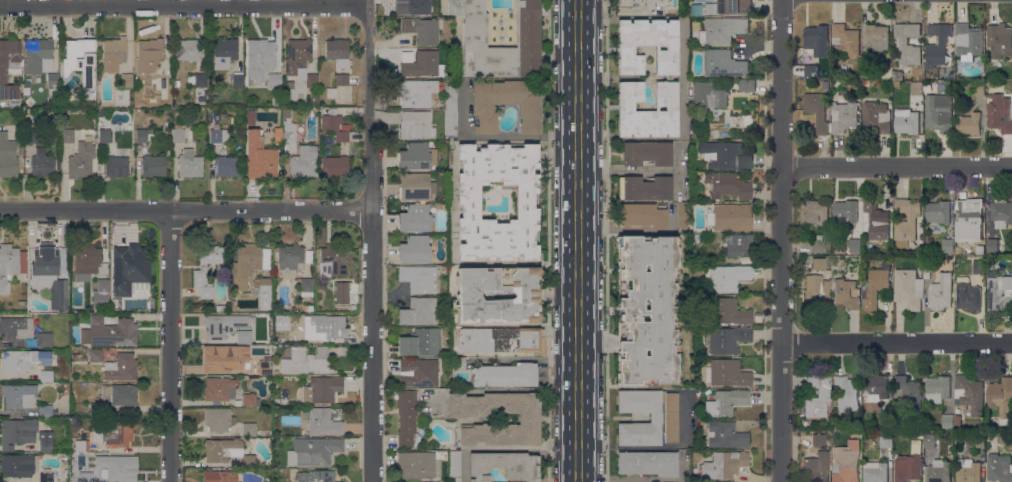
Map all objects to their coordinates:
building: (642, 3)
road: (180, 5)
building: (411, 6)
building: (728, 7)
building: (421, 29)
building: (527, 30)
building: (722, 30)
building: (817, 37)
building: (878, 37)
building: (846, 39)
building: (999, 40)
building: (968, 41)
building: (907, 43)
building: (939, 46)
building: (648, 47)
building: (115, 49)
building: (189, 49)
building: (262, 49)
building: (337, 51)
building: (224, 52)
building: (37, 54)
building: (149, 55)
building: (297, 55)
building: (724, 63)
building: (81, 64)
building: (422, 64)
building: (883, 68)
building: (868, 69)
building: (256, 70)
building: (814, 70)
building: (3, 75)
building: (898, 75)
building: (52, 79)
building: (341, 79)
building: (164, 80)
building: (200, 80)
building: (238, 80)
building: (274, 80)
building: (311, 80)
building: (126, 82)
building: (866, 83)
building: (743, 85)
building: (917, 88)
building: (979, 88)
building: (418, 92)
building: (331, 93)
building: (709, 95)
building: (314, 99)
building: (506, 103)
building: (451, 107)
building: (647, 107)
building: (818, 111)
building: (939, 112)
building: (286, 113)
building: (1000, 113)
building: (845, 116)
building: (250, 117)
building: (877, 117)
building: (697, 118)
building: (907, 121)
building: (969, 124)
building: (334, 125)
building: (416, 125)
building: (178, 134)
building: (219, 134)
building: (31, 135)
building: (141, 135)
building: (67, 136)
building: (104, 136)
road: (497, 136)
building: (286, 137)
building: (20, 150)
building: (647, 153)
building: (725, 155)
building: (7, 156)
building: (417, 156)
building: (259, 157)
building: (81, 159)
building: (303, 162)
building: (42, 163)
building: (190, 164)
building: (116, 166)
building: (153, 166)
building: (227, 166)
building: (335, 166)
road: (896, 166)
road: (623, 170)
building: (728, 185)
building: (415, 187)
building: (645, 188)
building: (469, 198)
road: (185, 210)
building: (817, 211)
building: (845, 211)
building: (938, 212)
building: (1002, 213)
building: (642, 215)
building: (970, 215)
building: (732, 217)
building: (416, 218)
building: (683, 218)
building: (906, 221)
building: (874, 222)
road: (578, 240)
road: (780, 241)
road: (371, 243)
building: (737, 245)
building: (855, 245)
building: (948, 245)
building: (992, 245)
building: (819, 246)
building: (416, 248)
building: (290, 257)
building: (250, 260)
building: (332, 260)
building: (86, 262)
building: (819, 263)
building: (930, 264)
building: (11, 265)
building: (62, 265)
building: (979, 267)
building: (130, 270)
building: (49, 274)
building: (200, 276)
building: (726, 277)
building: (418, 278)
building: (306, 284)
building: (103, 286)
building: (876, 288)
building: (909, 288)
building: (264, 291)
building: (342, 292)
building: (941, 292)
building: (815, 293)
building: (846, 293)
building: (1000, 293)
building: (468, 295)
building: (968, 295)
building: (21, 303)
building: (232, 304)
building: (218, 308)
building: (308, 308)
building: (647, 309)
building: (419, 311)
building: (726, 311)
building: (280, 321)
building: (222, 325)
building: (328, 325)
building: (15, 327)
building: (109, 332)
building: (244, 336)
building: (44, 339)
building: (500, 339)
building: (727, 339)
building: (422, 342)
road: (896, 342)
road: (169, 346)
building: (94, 354)
building: (226, 358)
building: (22, 360)
building: (305, 360)
building: (459, 363)
building: (121, 367)
building: (267, 367)
building: (418, 373)
building: (728, 373)
building: (505, 375)
building: (46, 376)
building: (877, 385)
building: (217, 388)
building: (322, 389)
building: (938, 389)
building: (907, 391)
building: (846, 392)
building: (970, 393)
building: (19, 395)
building: (121, 395)
building: (817, 396)
building: (1001, 396)
building: (249, 399)
building: (262, 402)
building: (725, 402)
building: (97, 409)
building: (46, 411)
building: (406, 416)
building: (655, 417)
building: (218, 419)
building: (529, 420)
building: (957, 420)
building: (322, 421)
building: (886, 421)
building: (948, 421)
building: (248, 428)
building: (113, 431)
building: (17, 432)
building: (919, 434)
building: (725, 435)
building: (818, 439)
building: (45, 440)
building: (886, 440)
building: (929, 440)
building: (979, 441)
building: (81, 445)
building: (226, 451)
building: (313, 451)
building: (846, 462)
building: (647, 463)
building: (18, 464)
building: (64, 464)
building: (909, 464)
building: (419, 465)
building: (503, 465)
building: (724, 465)
building: (455, 466)
building: (119, 467)
building: (817, 467)
building: (999, 467)
building: (968, 470)
building: (875, 471)
building: (940, 471)
building: (46, 475)
building: (220, 475)
building: (316, 476)
building: (86, 477)
building: (400, 481)

